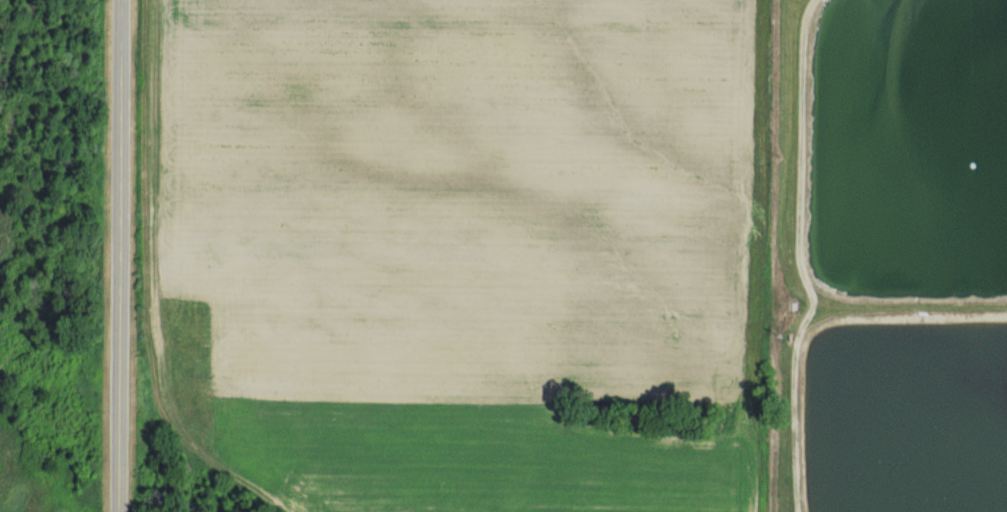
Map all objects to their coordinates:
road: (119, 255)

